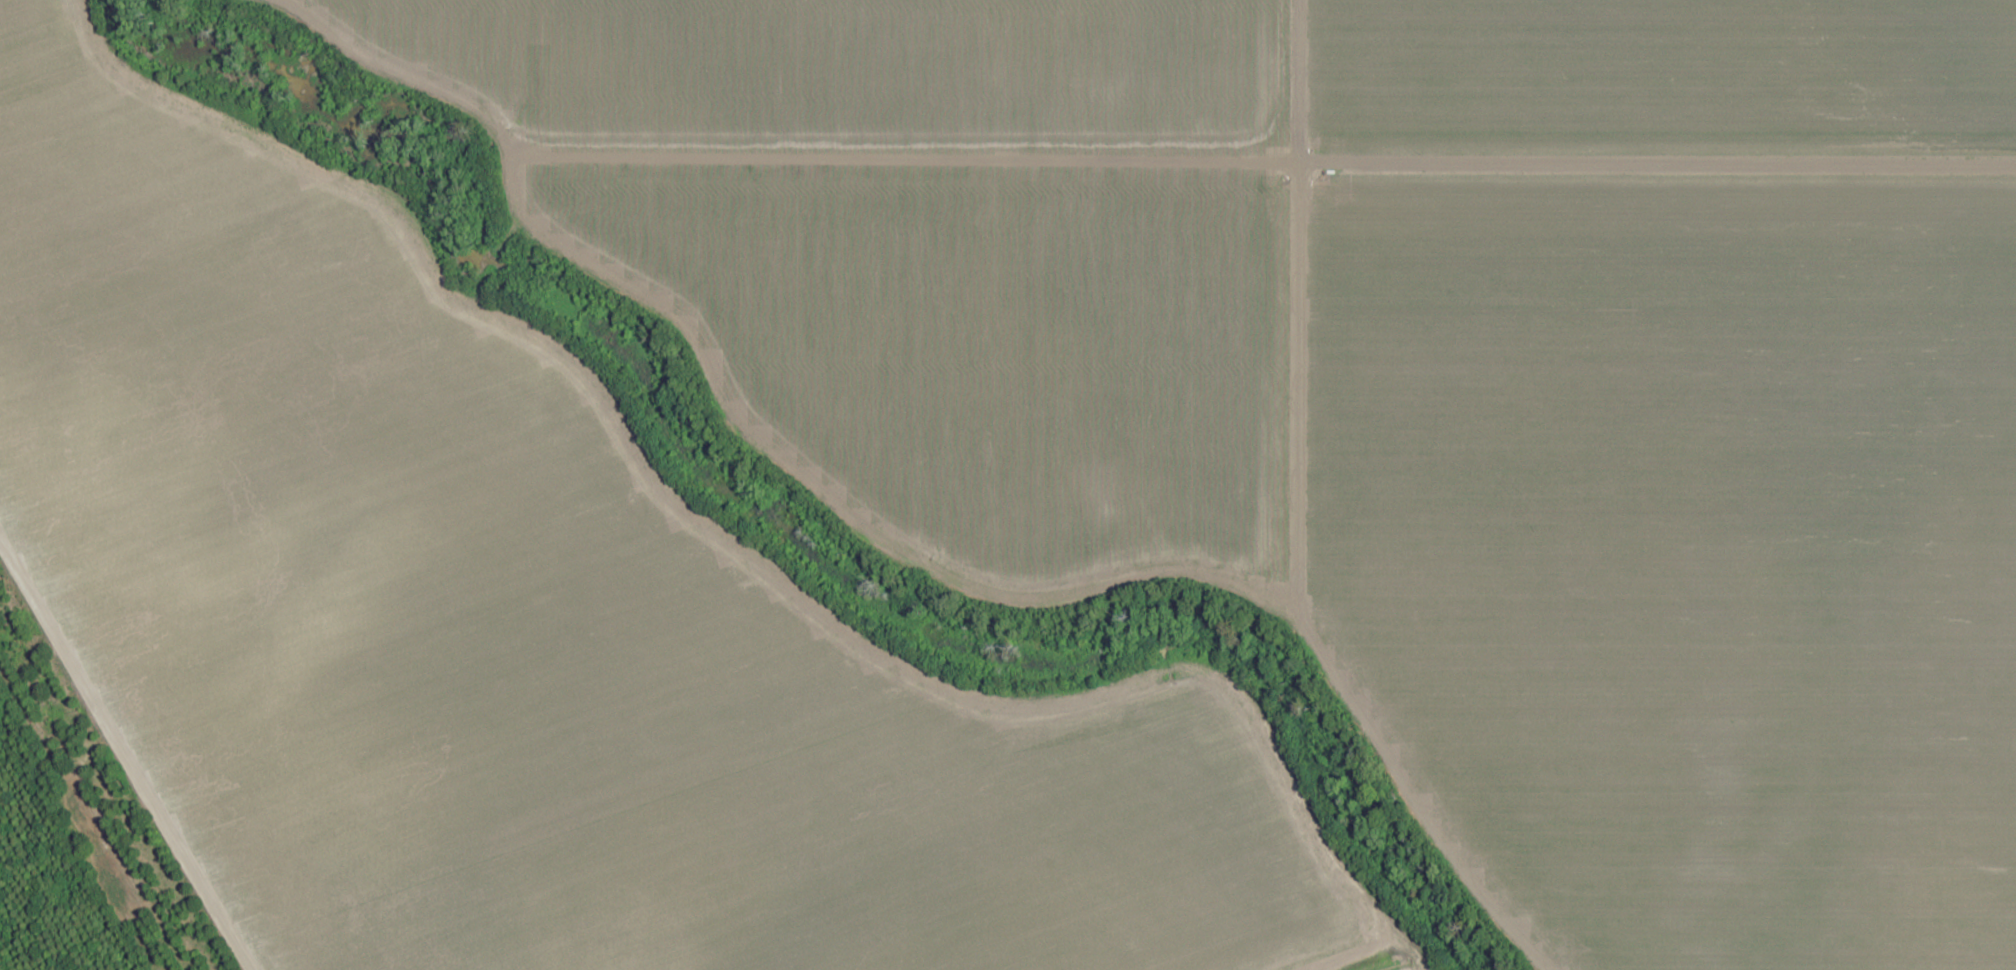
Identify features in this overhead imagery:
road: (123, 759)
road: (1329, 962)

